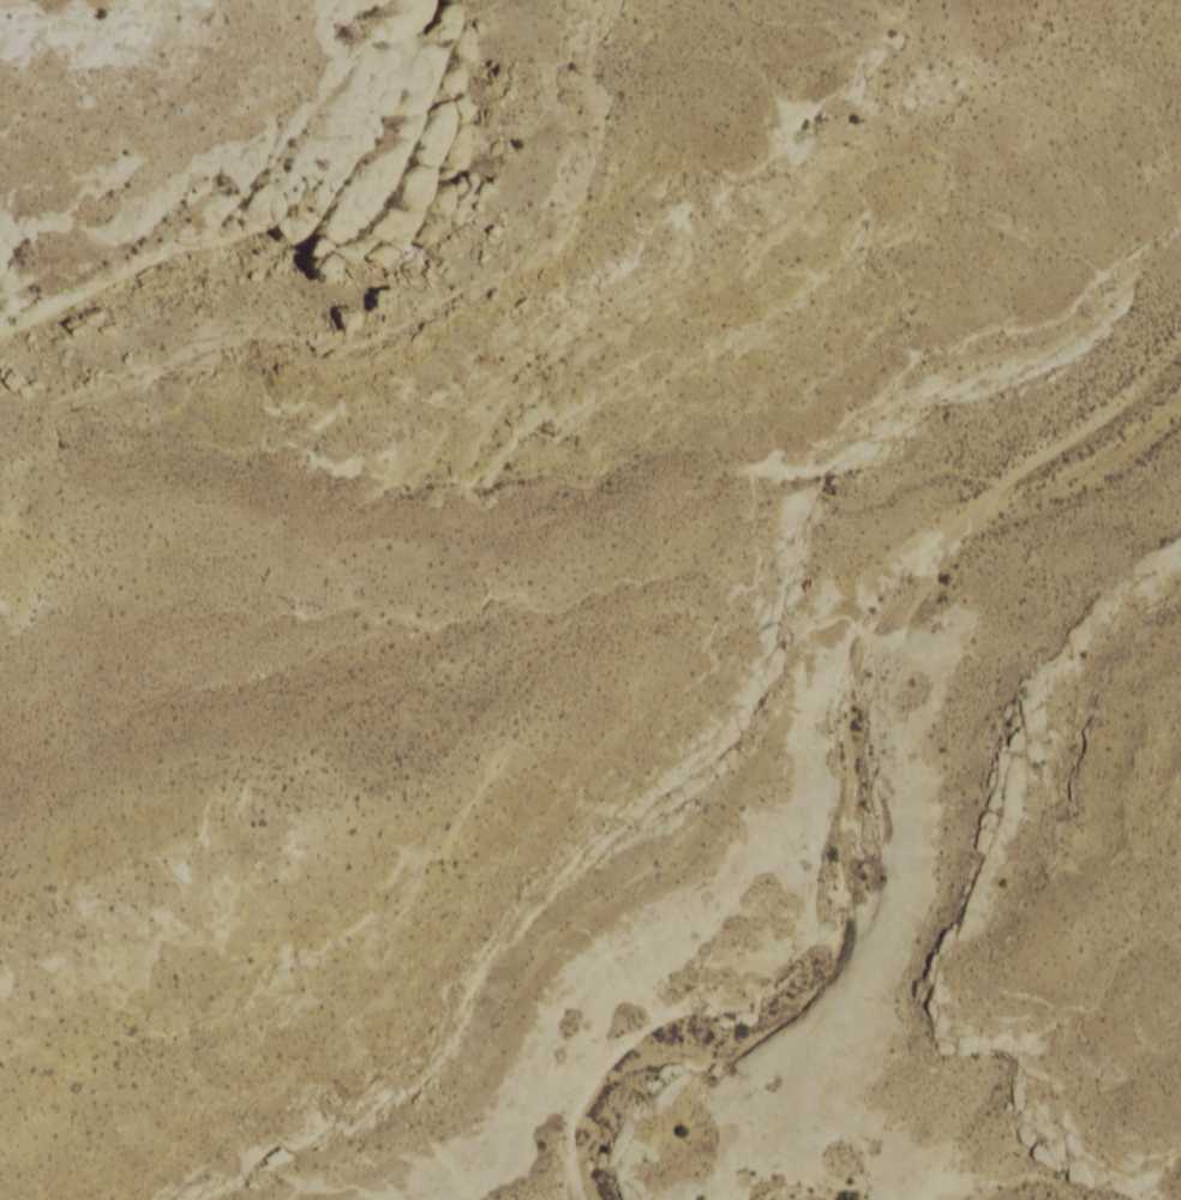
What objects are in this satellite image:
road: (745, 784)

